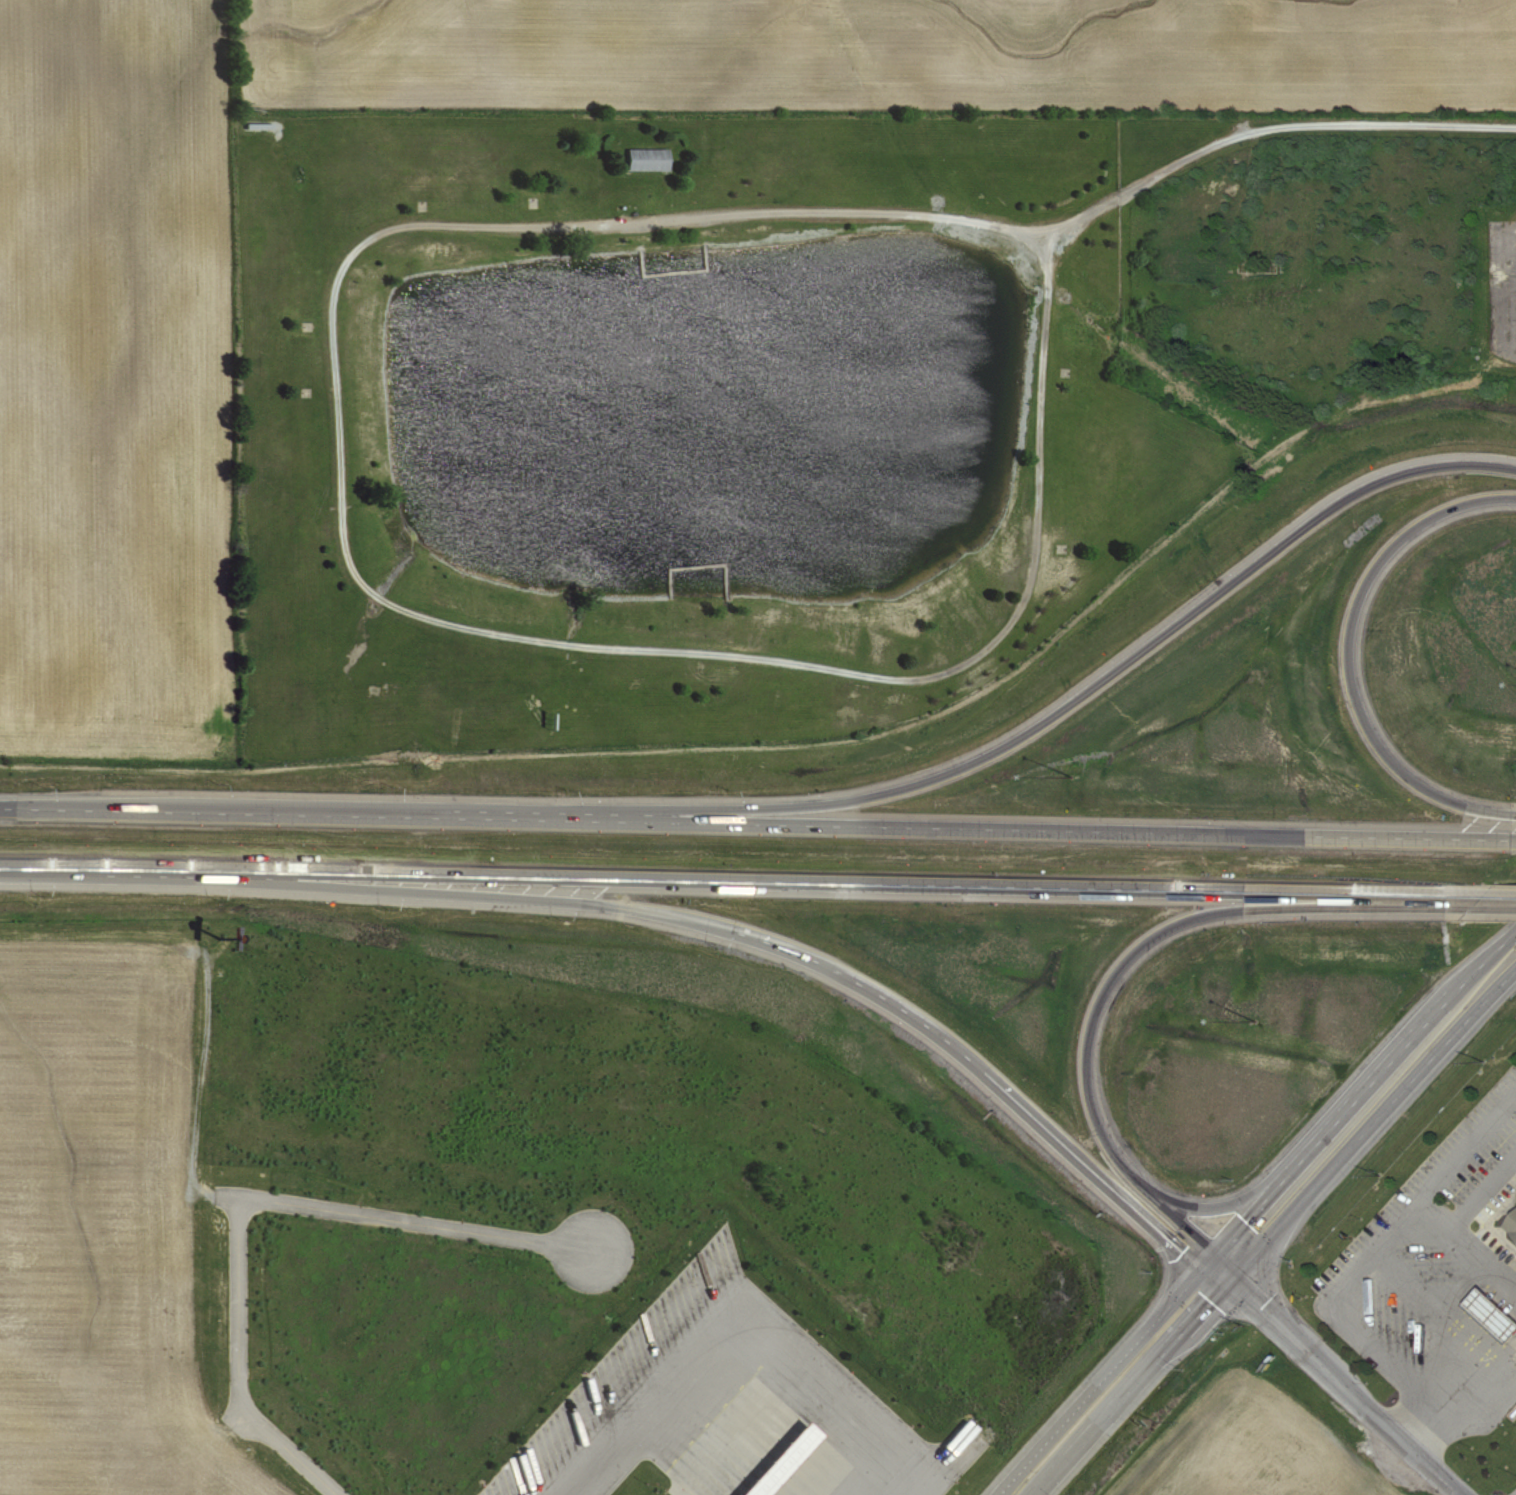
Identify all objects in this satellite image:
road: (1283, 127)
building: (652, 160)
road: (374, 593)
road: (1348, 654)
road: (1035, 729)
road: (757, 825)
road: (758, 880)
road: (746, 930)
road: (1117, 973)
road: (1361, 1107)
road: (1369, 1133)
road: (1232, 1203)
road: (248, 1205)
road: (1414, 1211)
road: (1440, 1216)
building: (1512, 1225)
road: (1468, 1242)
road: (1230, 1264)
road: (1501, 1278)
road: (1209, 1285)
parking lot: (1422, 1291)
building: (1492, 1315)
road: (744, 1327)
road: (1366, 1331)
road: (1101, 1384)
road: (1453, 1387)
road: (1493, 1387)
road: (1347, 1389)
parking lot: (740, 1395)
road: (1132, 1396)
building: (791, 1461)

